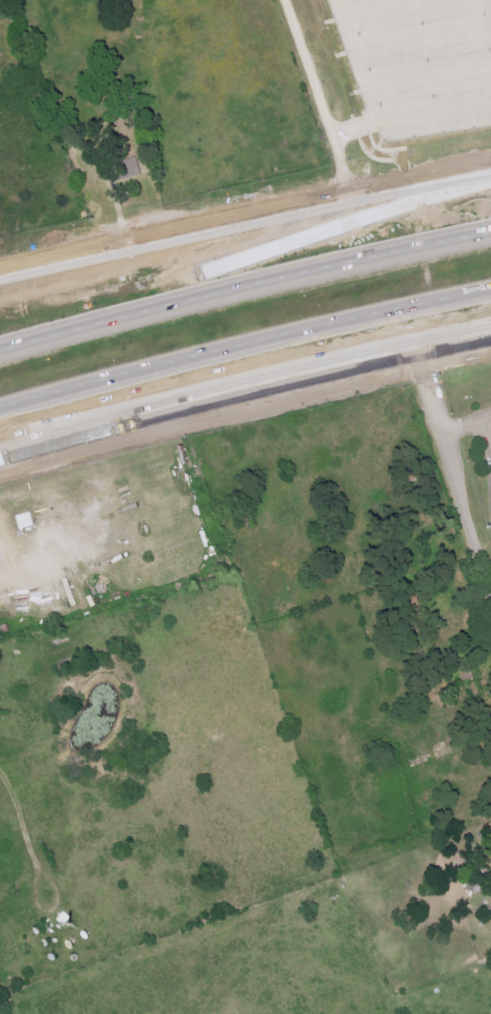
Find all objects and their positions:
road: (315, 97)
road: (409, 118)
building: (129, 169)
road: (245, 218)
road: (257, 257)
road: (244, 286)
road: (244, 343)
road: (455, 347)
road: (209, 406)
road: (107, 415)
road: (468, 425)
road: (489, 426)
road: (454, 470)
building: (26, 520)
road: (16, 567)

